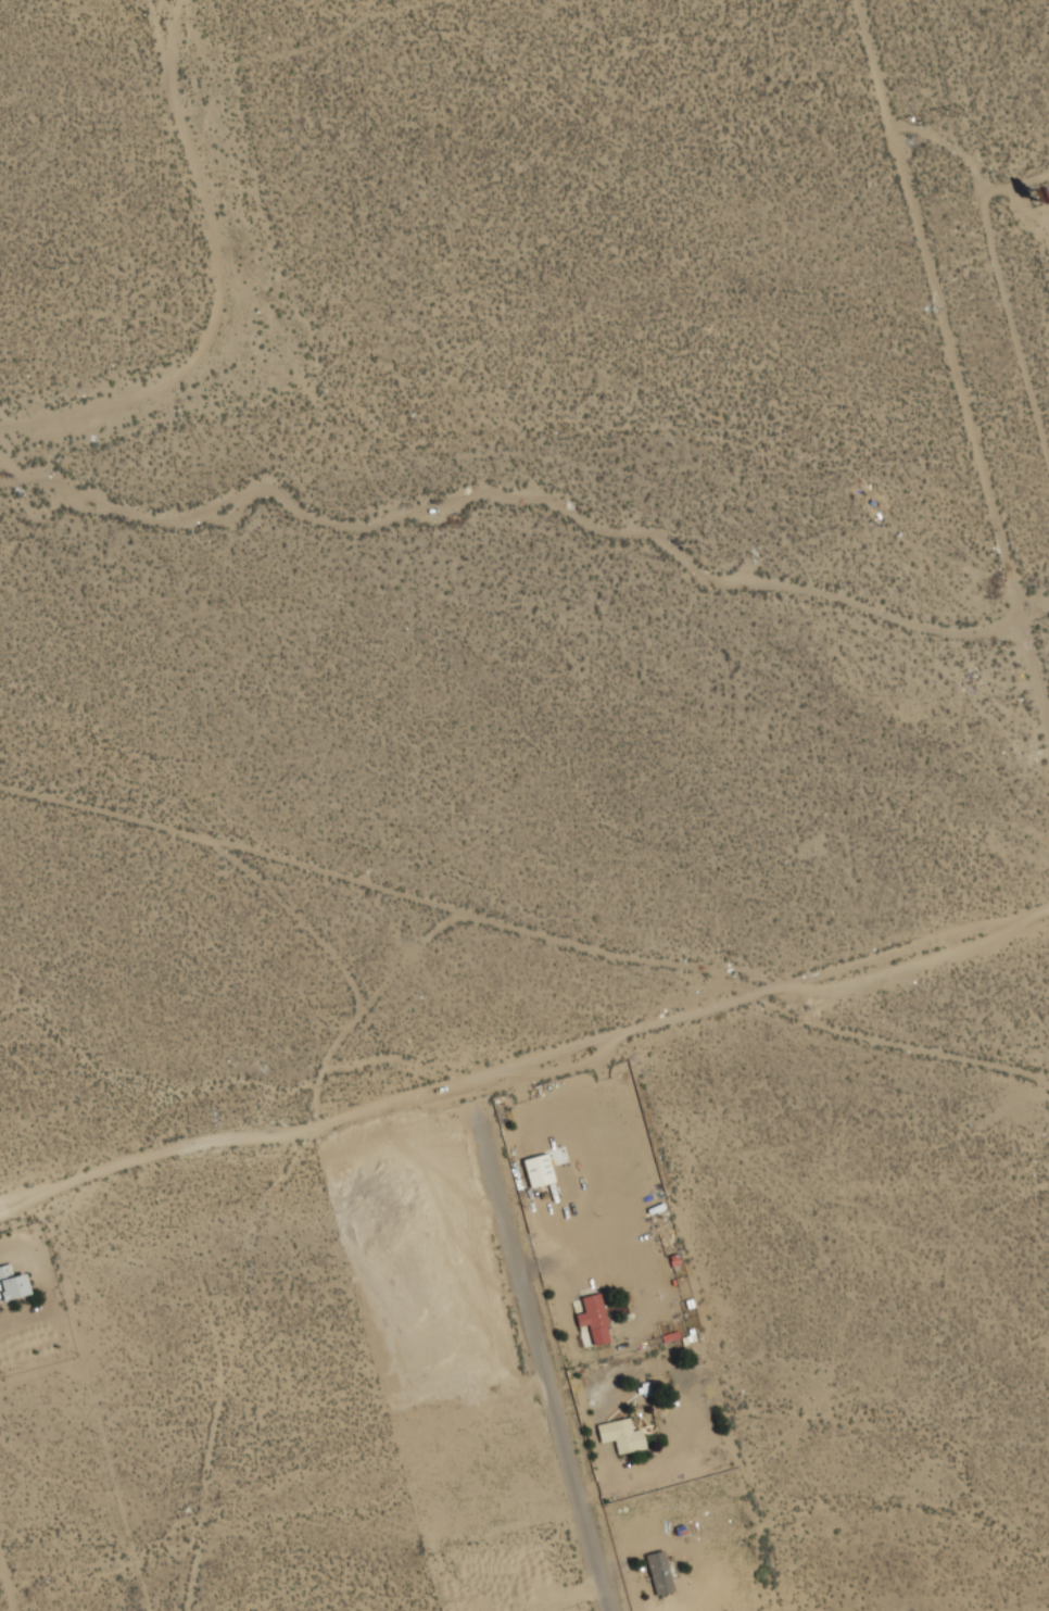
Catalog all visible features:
power tower: (951, 115)
power tower: (917, 124)
road: (950, 362)
road: (759, 997)
road: (231, 1141)
building: (538, 1171)
building: (597, 1325)
road: (539, 1349)
building: (620, 1435)
building: (658, 1572)
road: (4, 1596)

